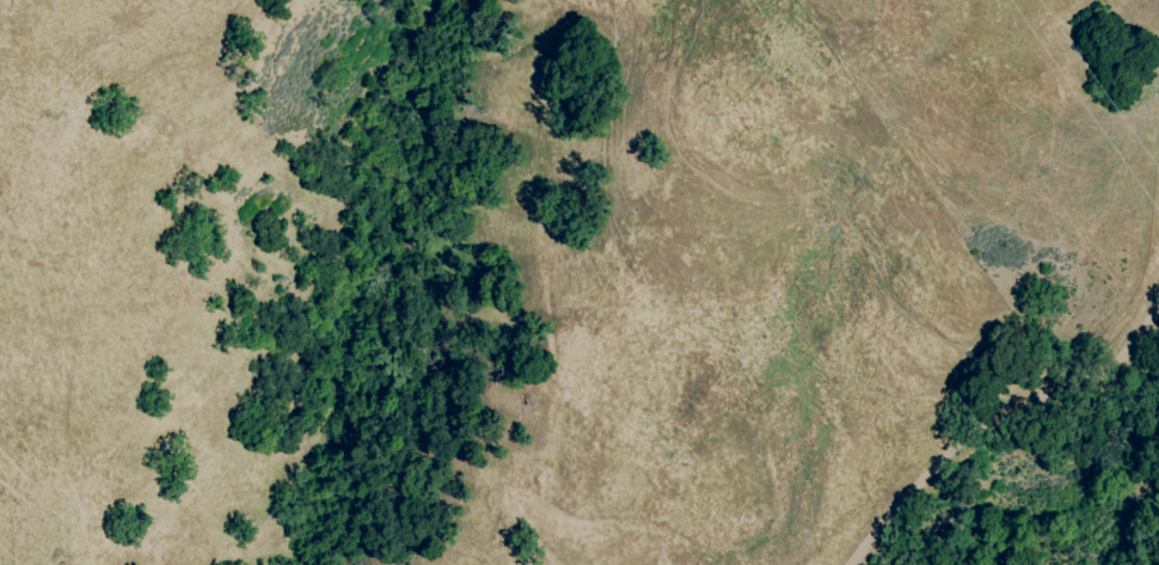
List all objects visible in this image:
road: (997, 416)

